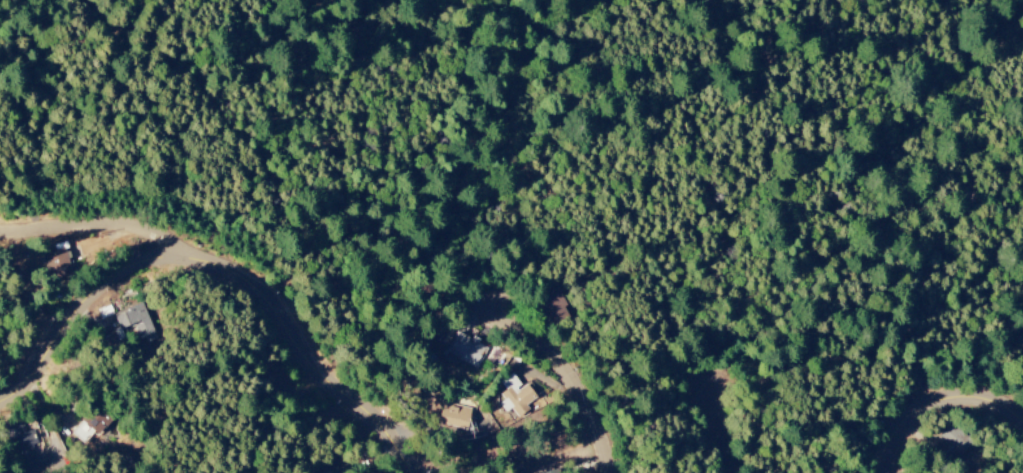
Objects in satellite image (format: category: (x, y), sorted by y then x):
road: (103, 225)
building: (56, 264)
road: (225, 267)
building: (551, 304)
building: (136, 322)
building: (464, 351)
road: (579, 379)
building: (516, 396)
road: (937, 406)
building: (453, 416)
building: (90, 425)
road: (724, 428)
building: (953, 440)
building: (22, 449)
building: (319, 470)
building: (553, 471)

